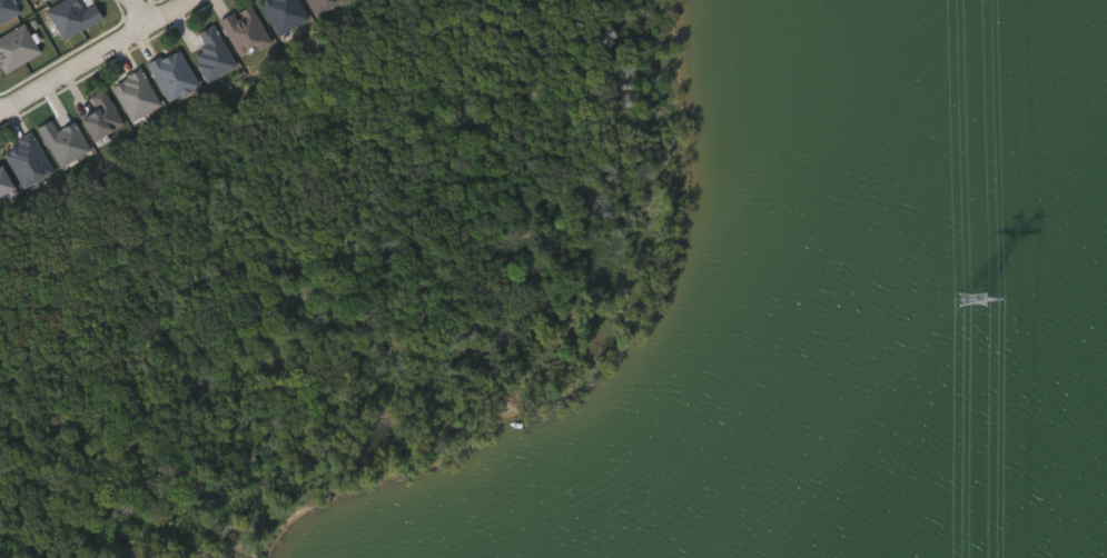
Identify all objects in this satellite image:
building: (47, 1)
building: (320, 4)
building: (8, 8)
road: (137, 10)
building: (285, 12)
building: (73, 14)
building: (246, 29)
building: (17, 46)
road: (88, 51)
building: (214, 53)
building: (174, 72)
building: (137, 92)
building: (101, 113)
building: (65, 139)
building: (28, 158)
building: (4, 179)
power tower: (975, 300)

